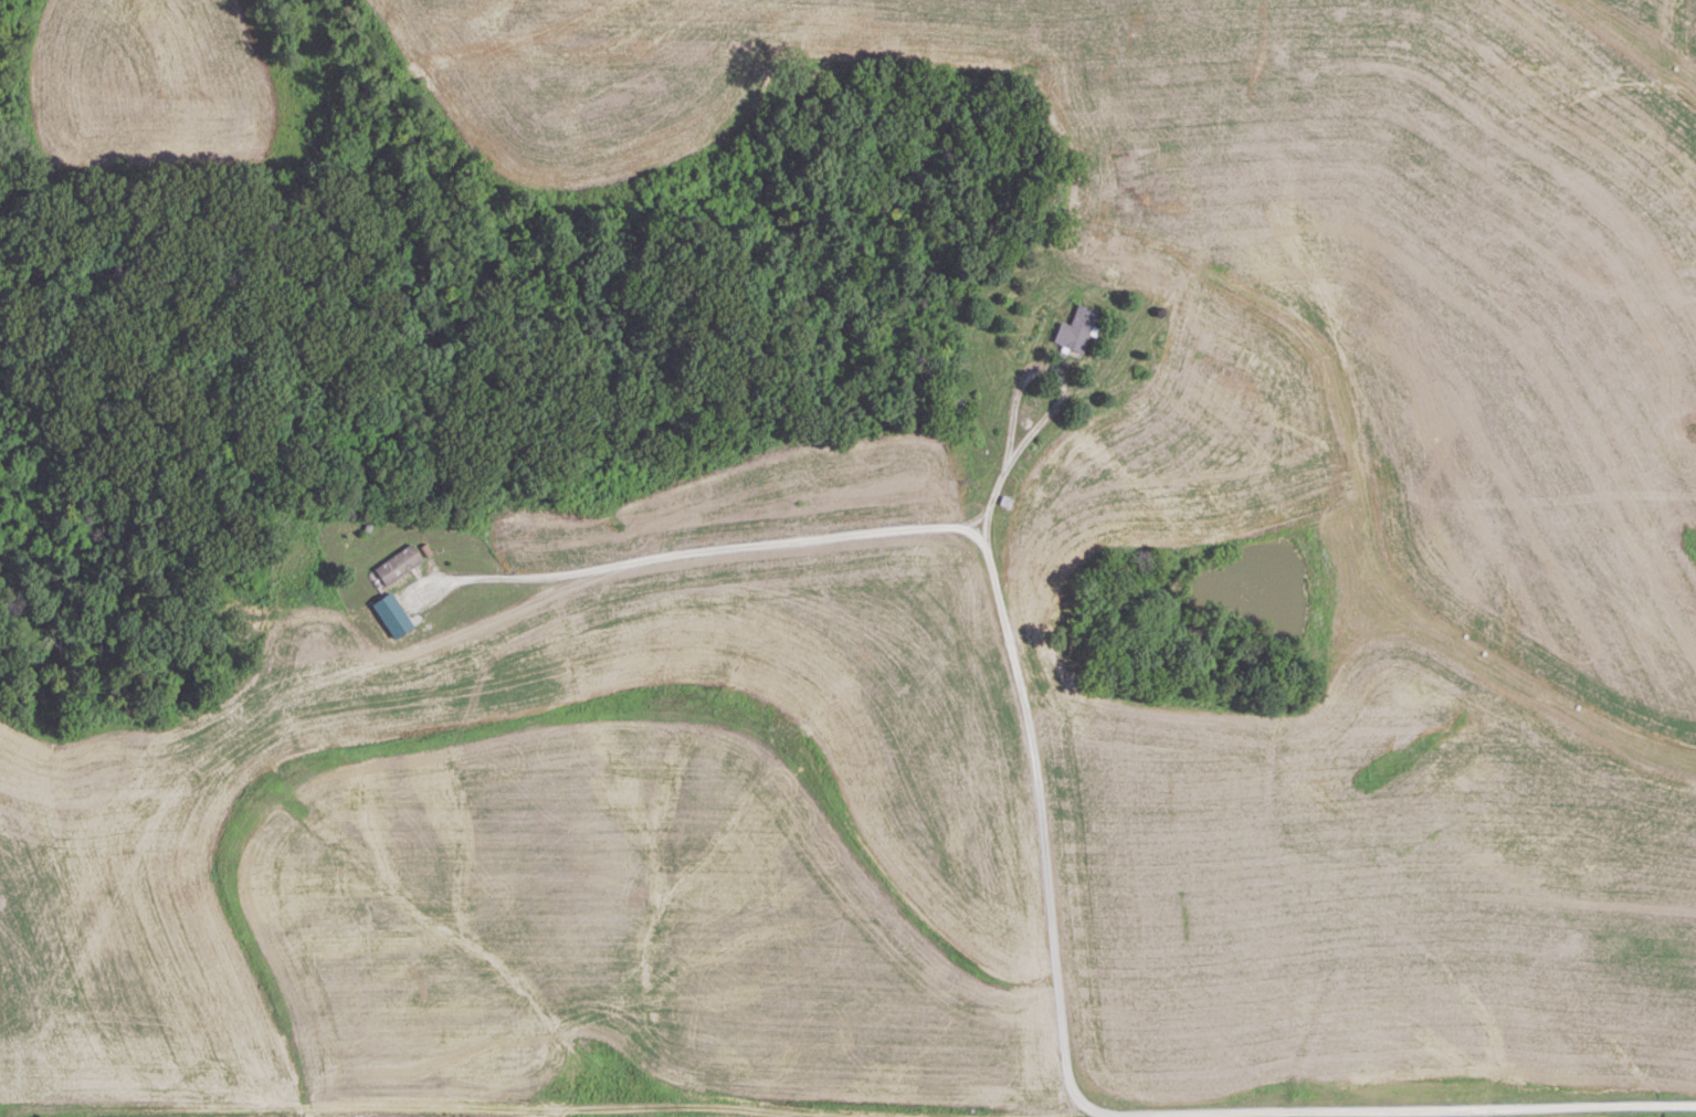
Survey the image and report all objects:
building: (1075, 329)
road: (1061, 391)
road: (766, 540)
building: (397, 565)
road: (1044, 823)
road: (1403, 1106)
road: (1108, 1114)
crop: (168, 1116)

